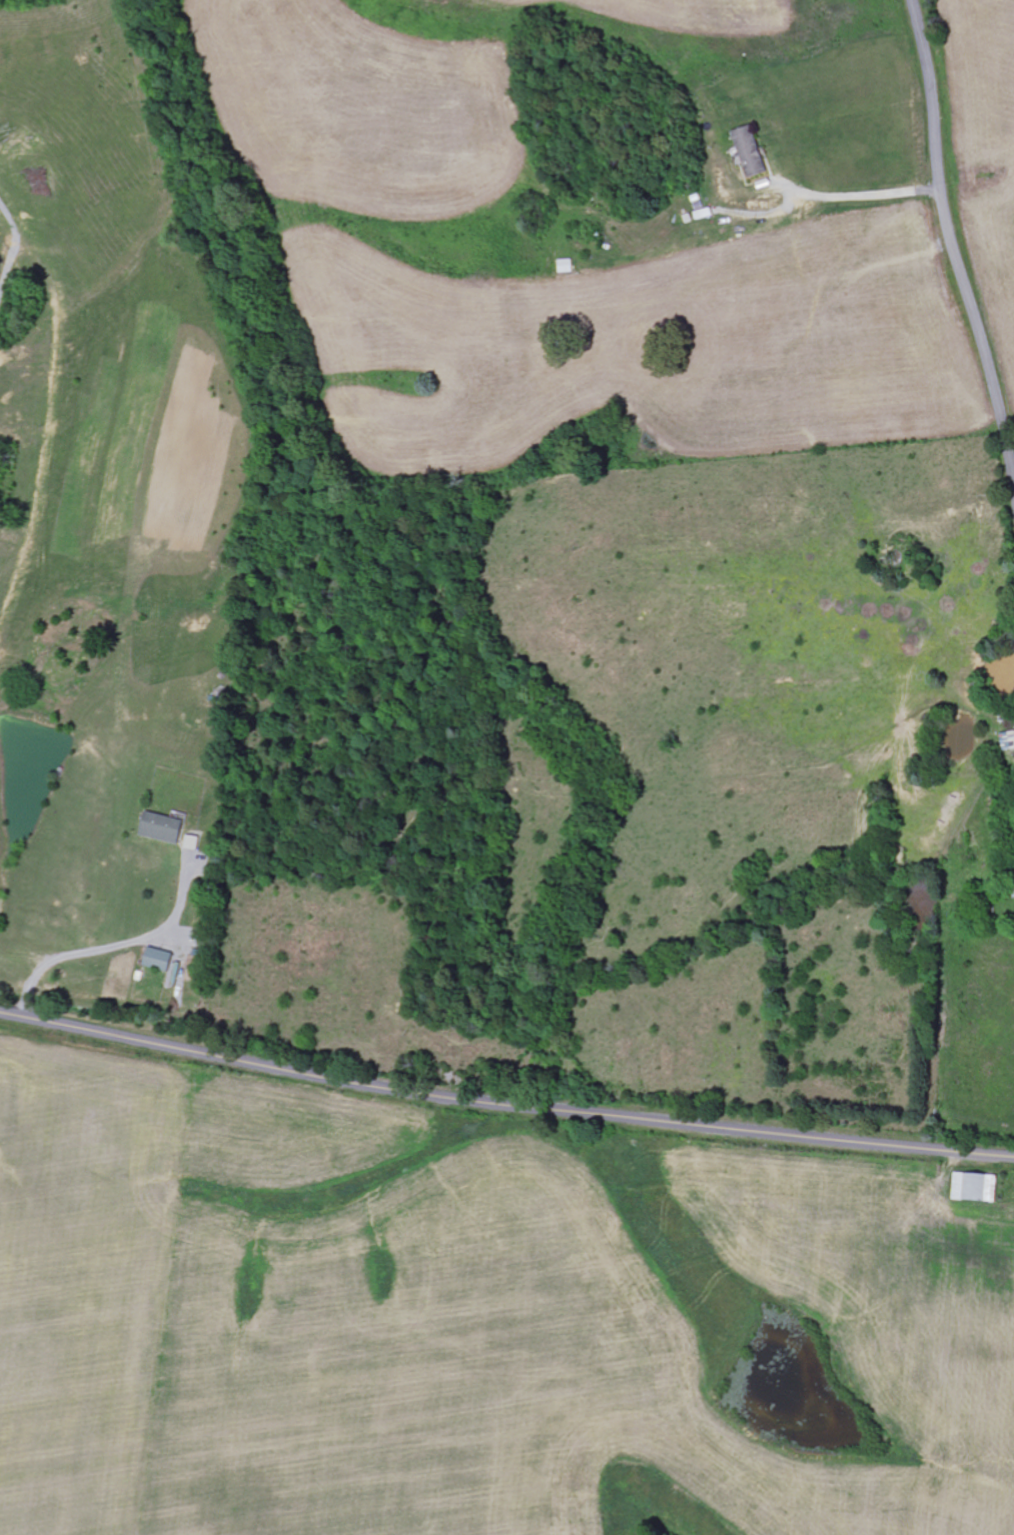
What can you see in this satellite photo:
building: (751, 151)
road: (952, 242)
building: (567, 266)
building: (1009, 741)
building: (164, 828)
building: (194, 843)
building: (162, 960)
road: (504, 1105)
building: (978, 1187)

